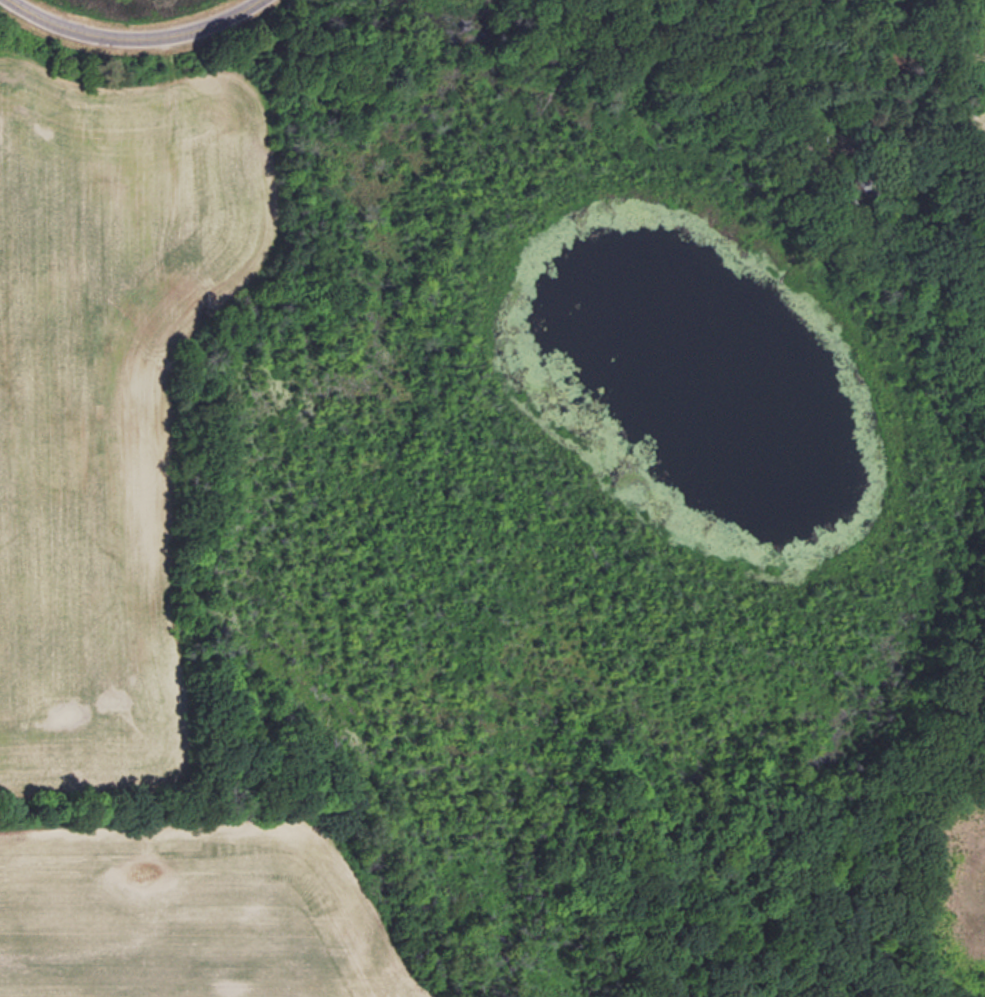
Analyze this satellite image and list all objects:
road: (138, 34)

